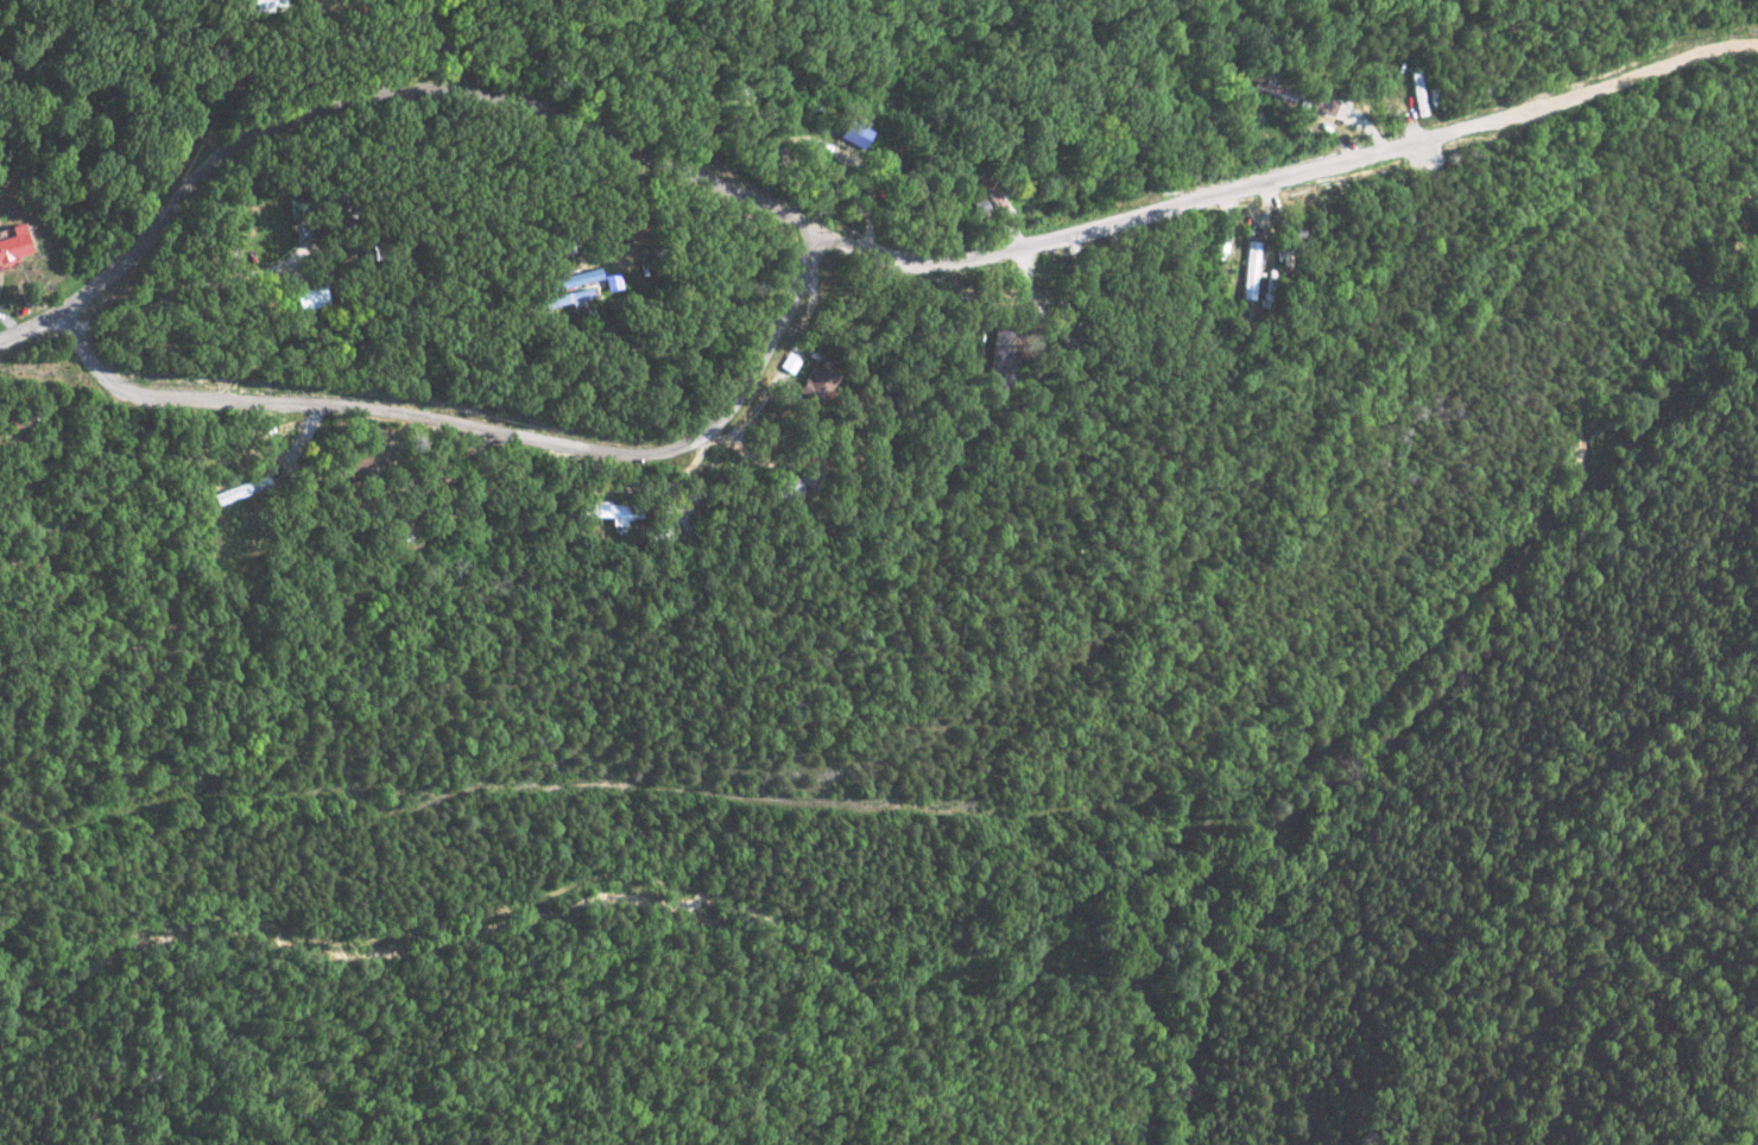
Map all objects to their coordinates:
building: (853, 133)
road: (841, 238)
building: (12, 242)
building: (1250, 270)
building: (573, 279)
building: (564, 298)
building: (1001, 362)
building: (816, 382)
road: (488, 429)
building: (613, 512)

